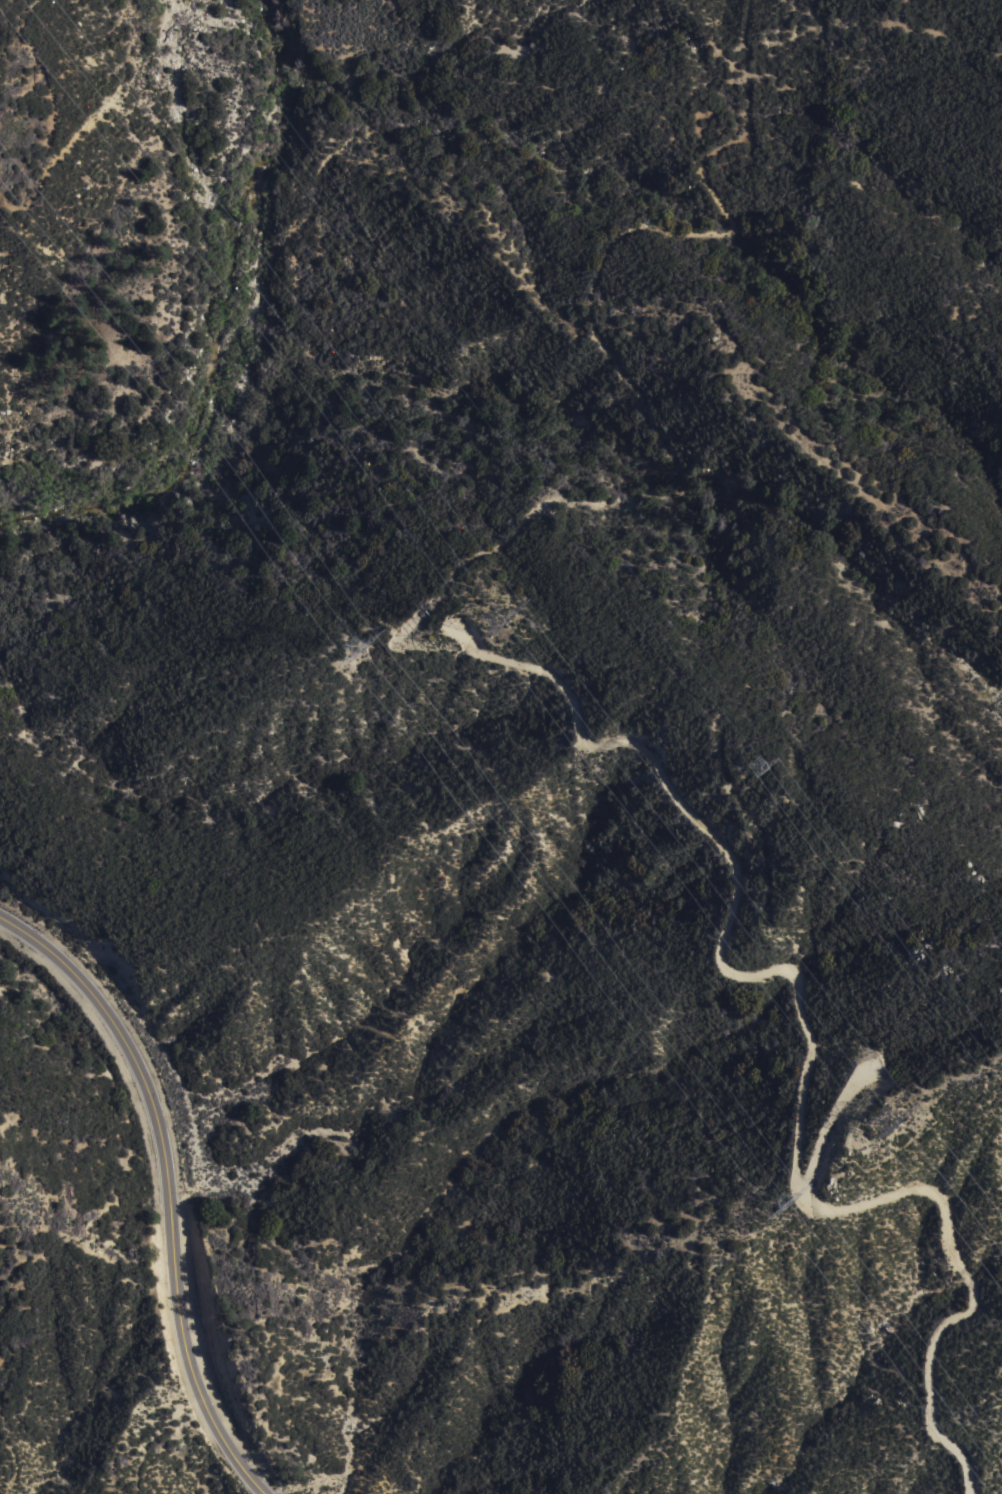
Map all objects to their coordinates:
road: (2, 30)
road: (623, 378)
power tower: (481, 623)
power tower: (345, 656)
power tower: (742, 773)
road: (812, 1044)
power tower: (870, 1134)
road: (166, 1187)
power tower: (768, 1206)

